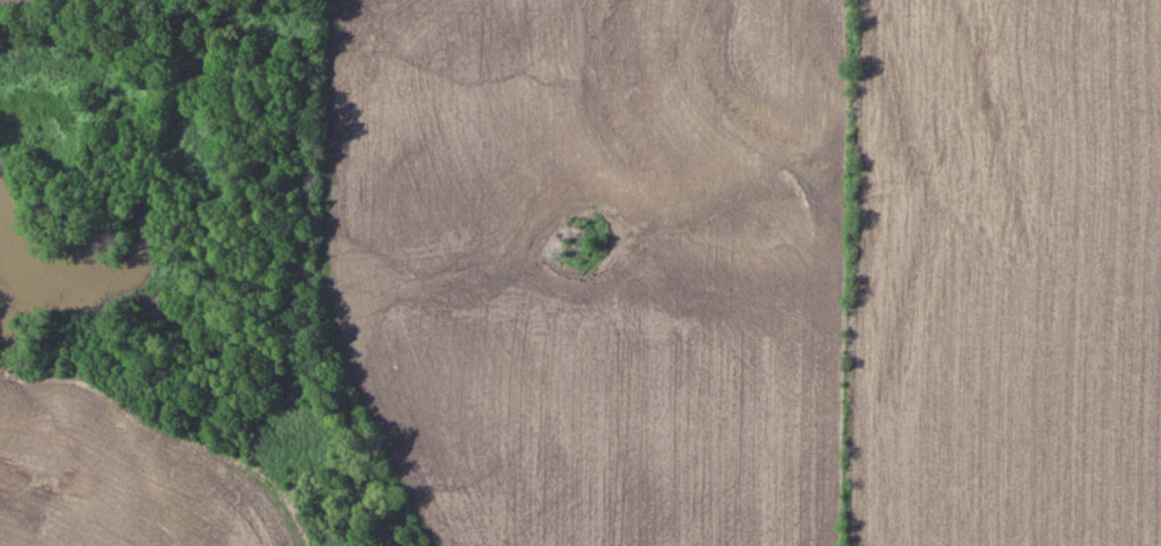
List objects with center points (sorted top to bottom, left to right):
crop: (1007, 274)

